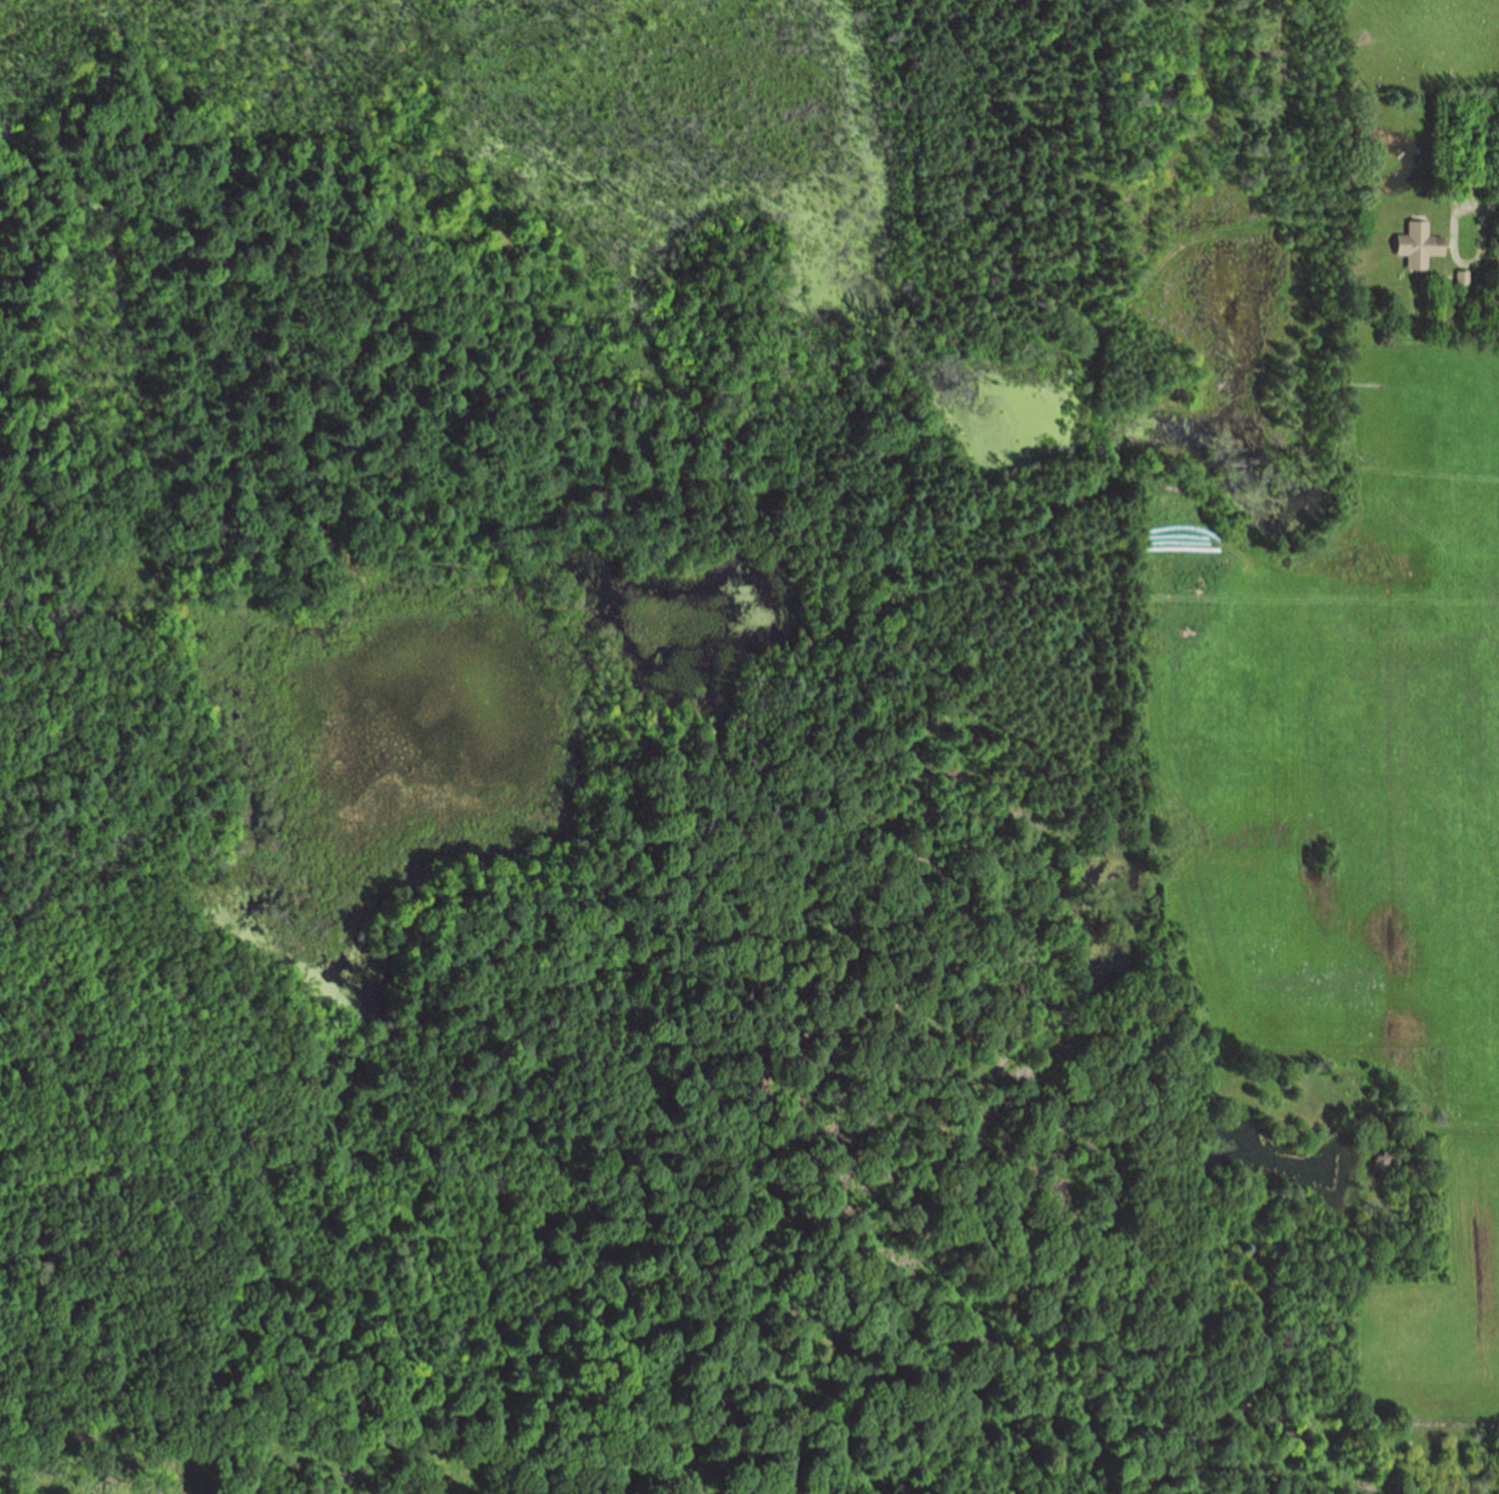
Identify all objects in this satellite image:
road: (1477, 208)
building: (1421, 249)

